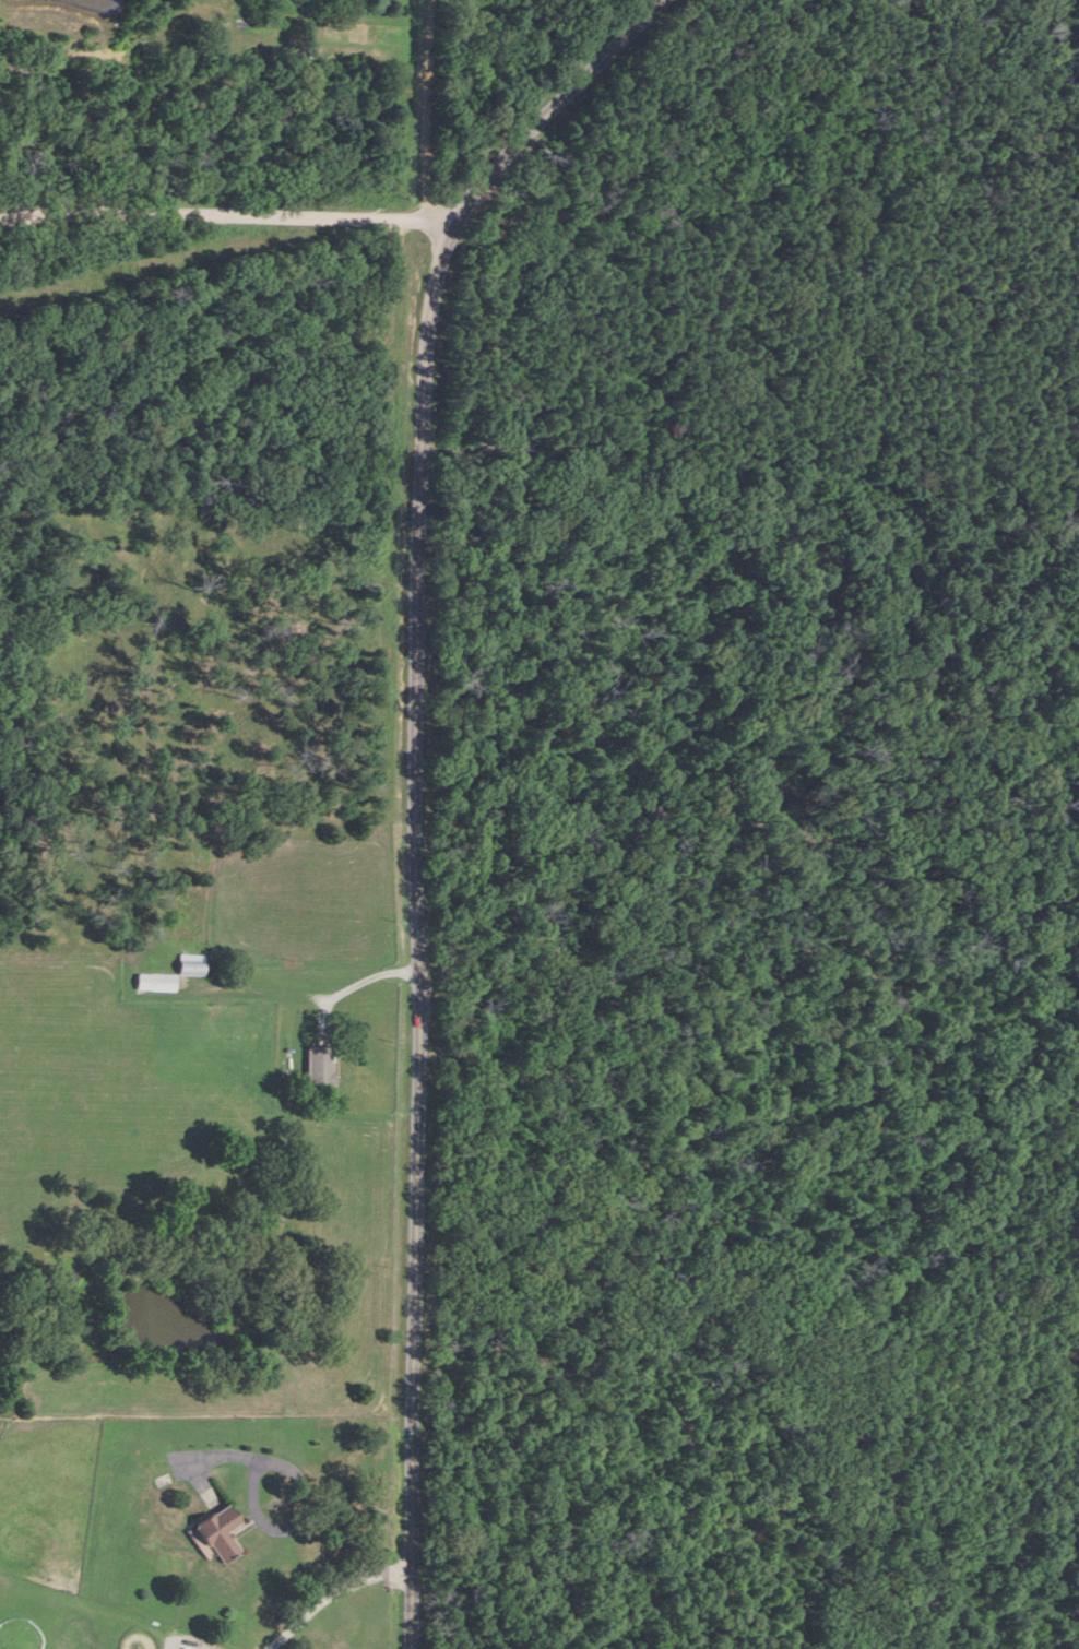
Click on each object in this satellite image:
road: (426, 109)
road: (211, 209)
road: (424, 241)
road: (137, 257)
road: (414, 778)
building: (190, 965)
building: (156, 983)
road: (310, 1000)
building: (316, 1067)
building: (207, 1532)
road: (334, 1588)

